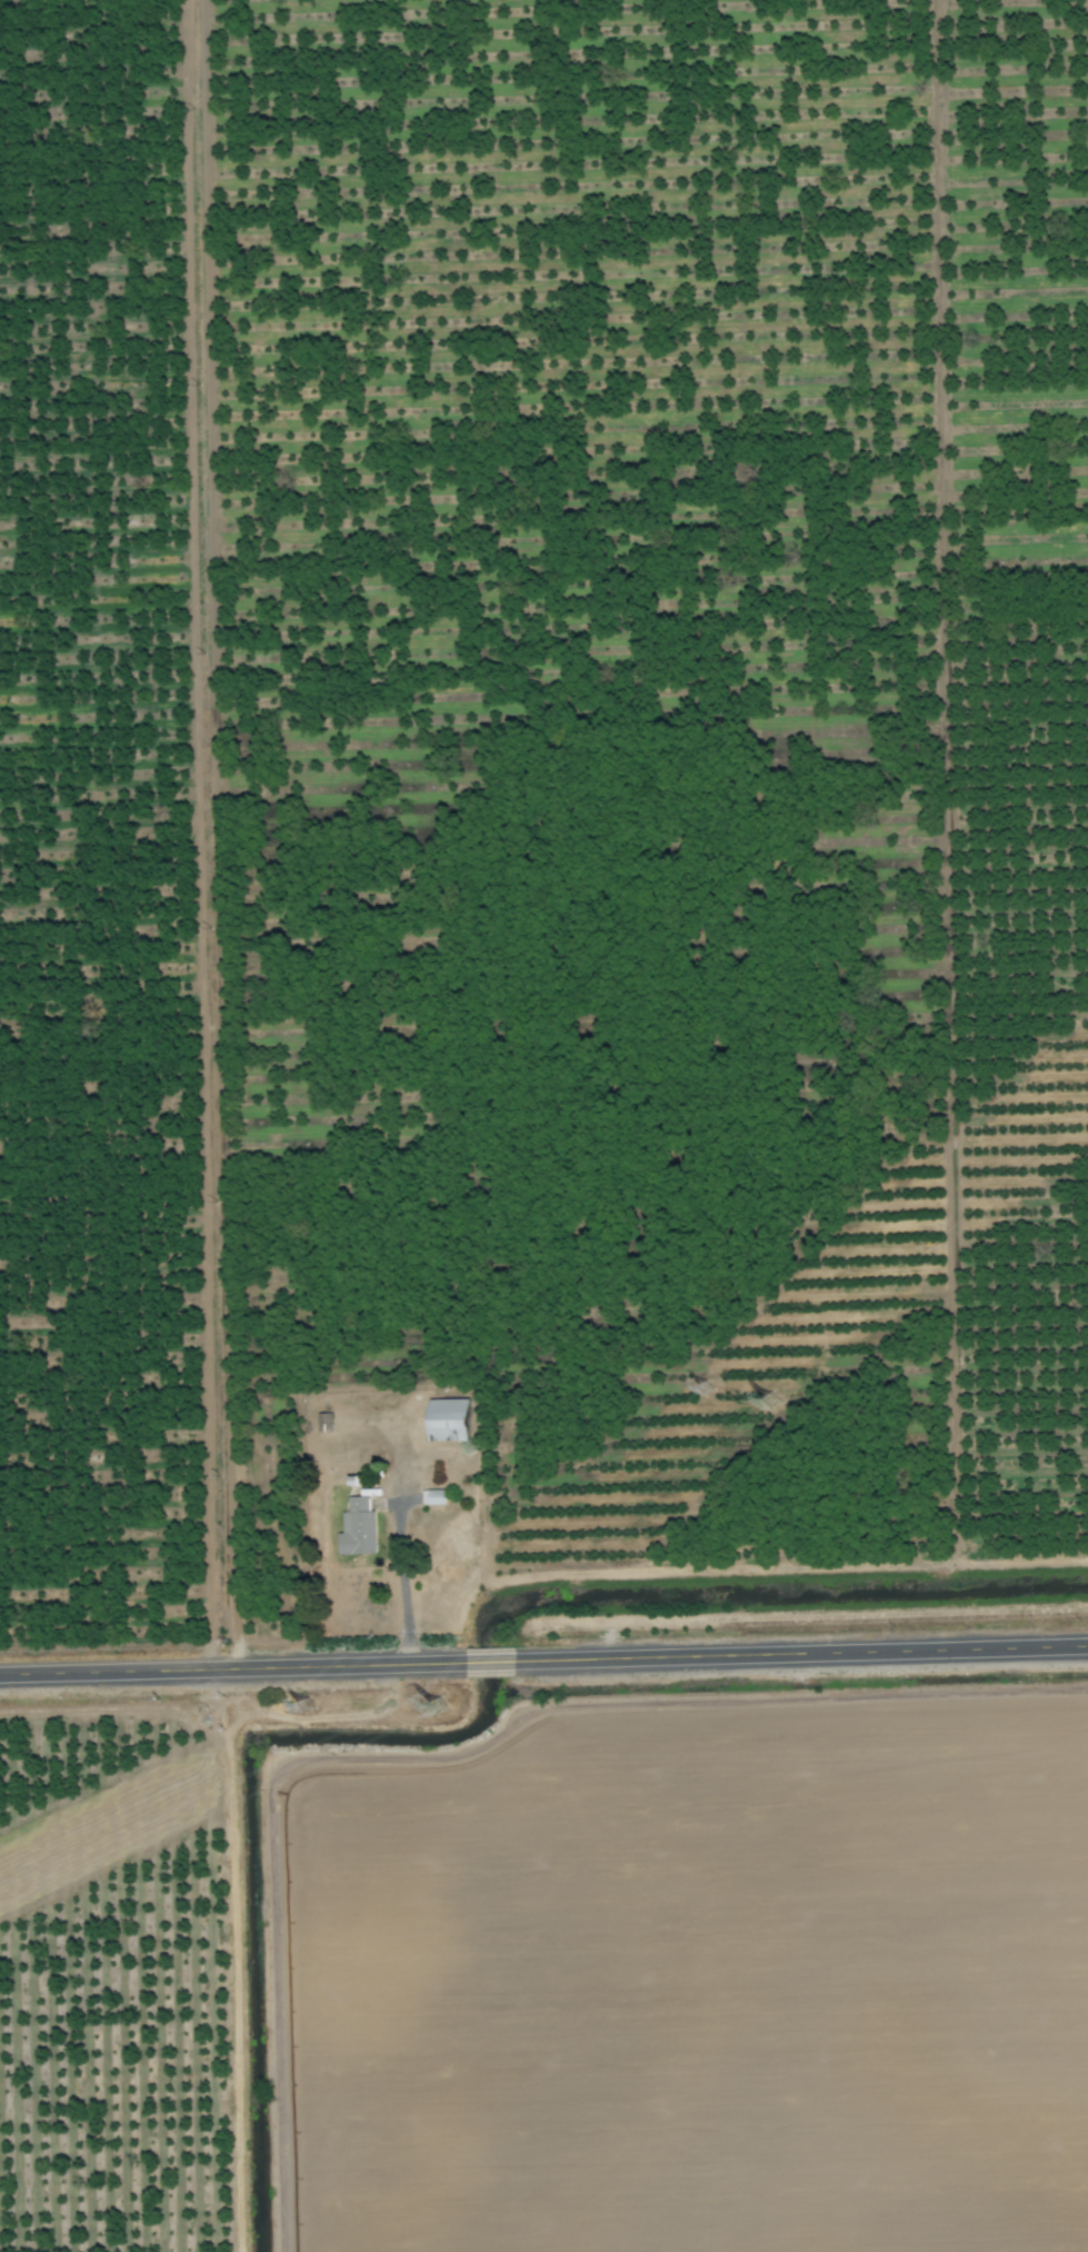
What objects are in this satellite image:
power tower: (703, 1391)
power tower: (768, 1404)
building: (448, 1418)
building: (360, 1526)
road: (402, 1586)
road: (802, 1656)
road: (489, 1664)
road: (230, 1672)
power tower: (305, 1710)
power tower: (435, 1710)

